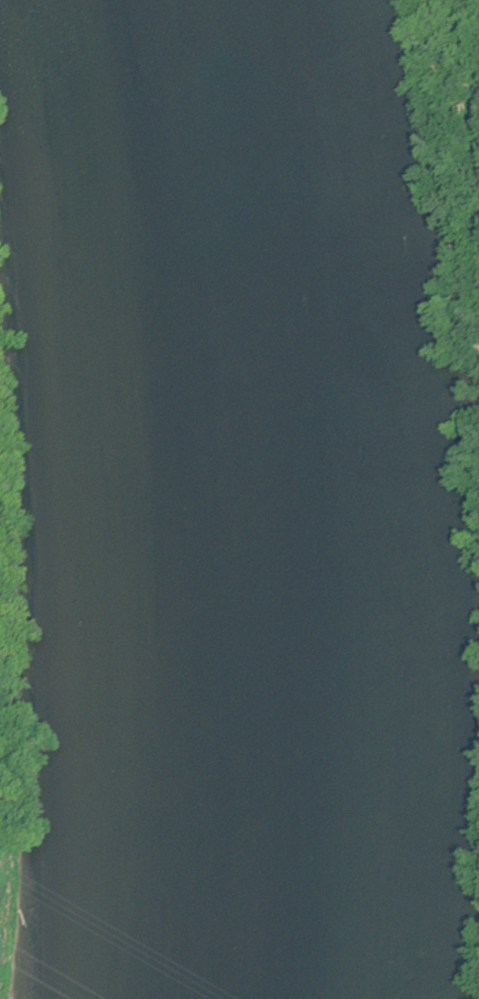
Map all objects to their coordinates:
river: (224, 498)

